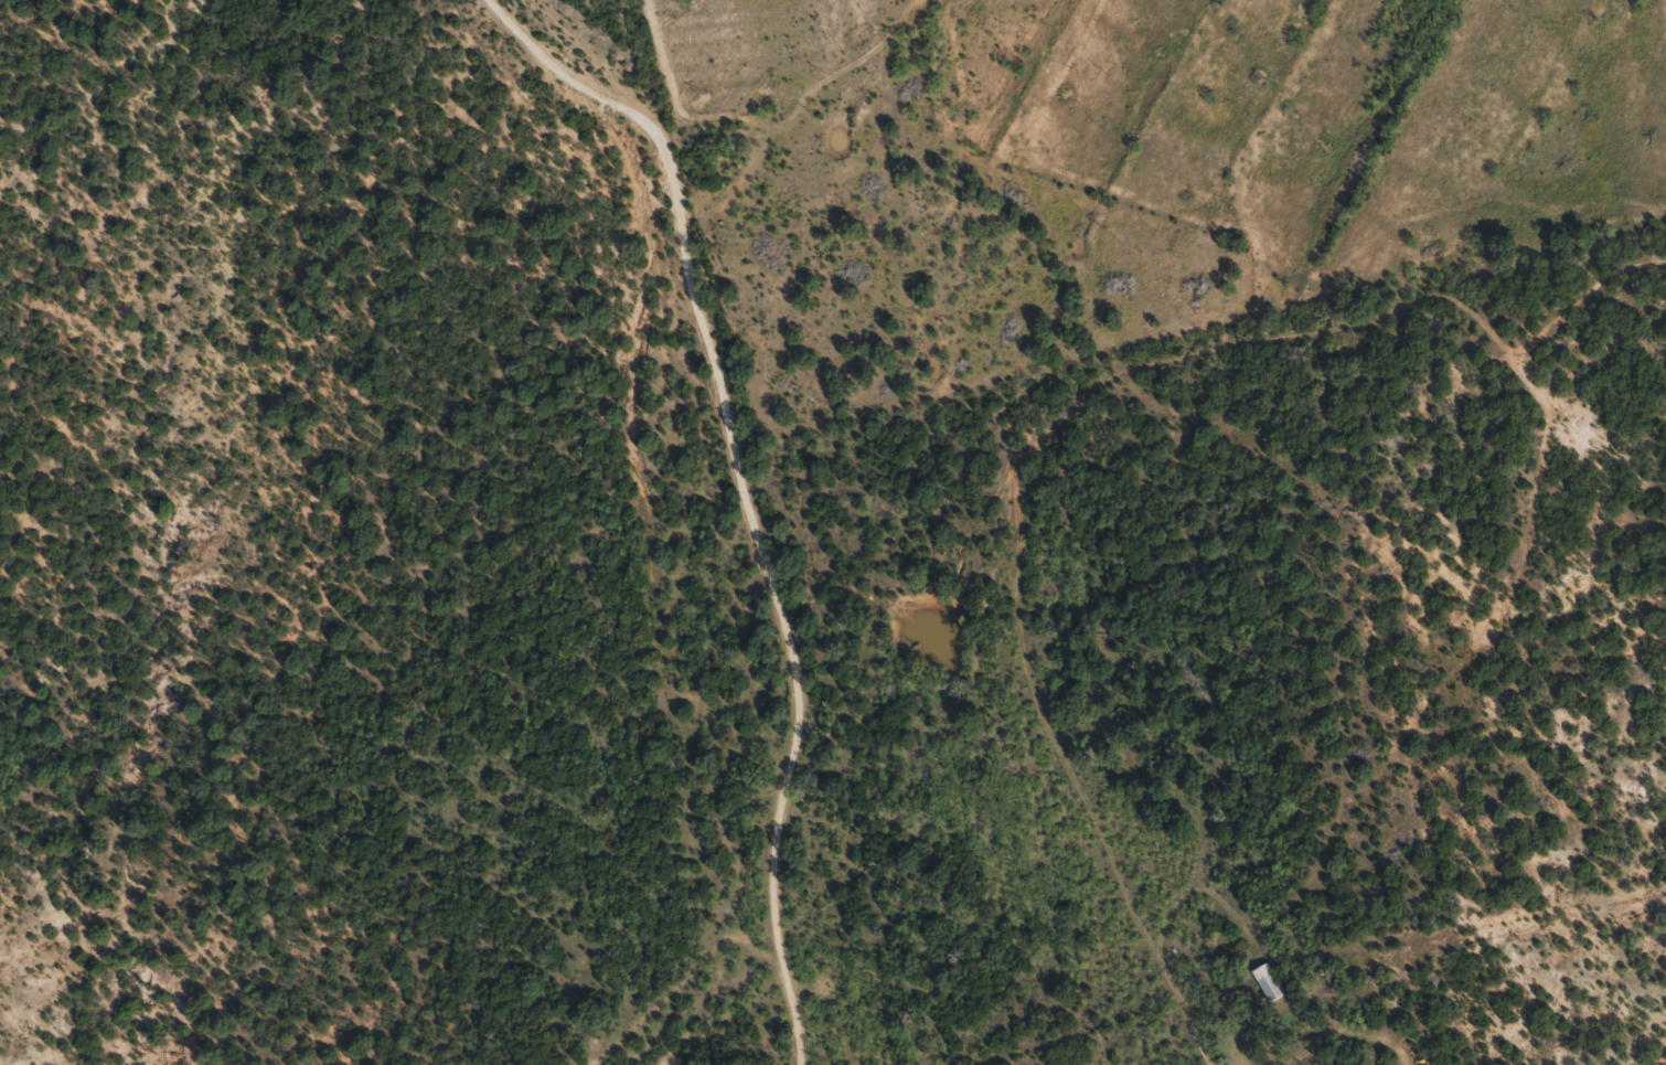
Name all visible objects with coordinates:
building: (1269, 992)

